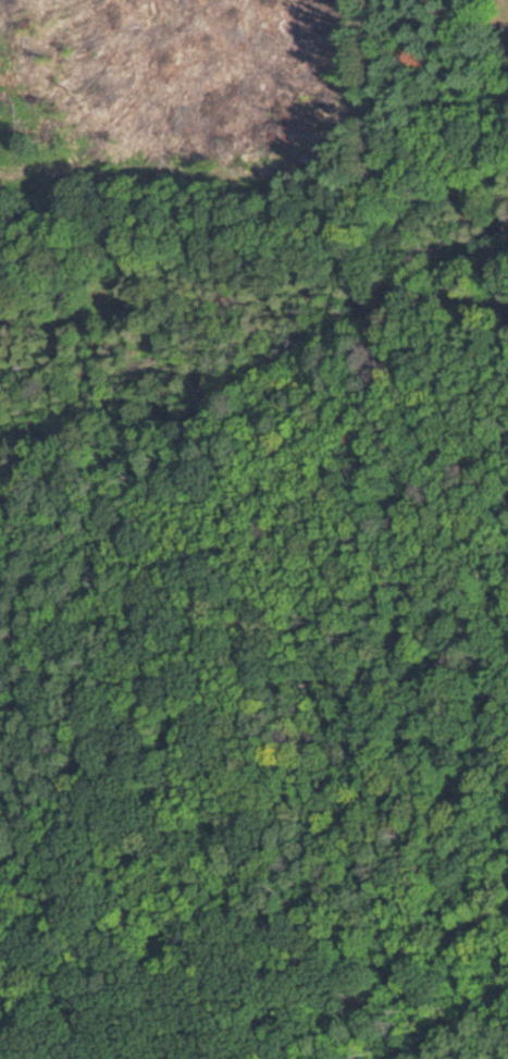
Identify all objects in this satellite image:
road: (253, 216)

